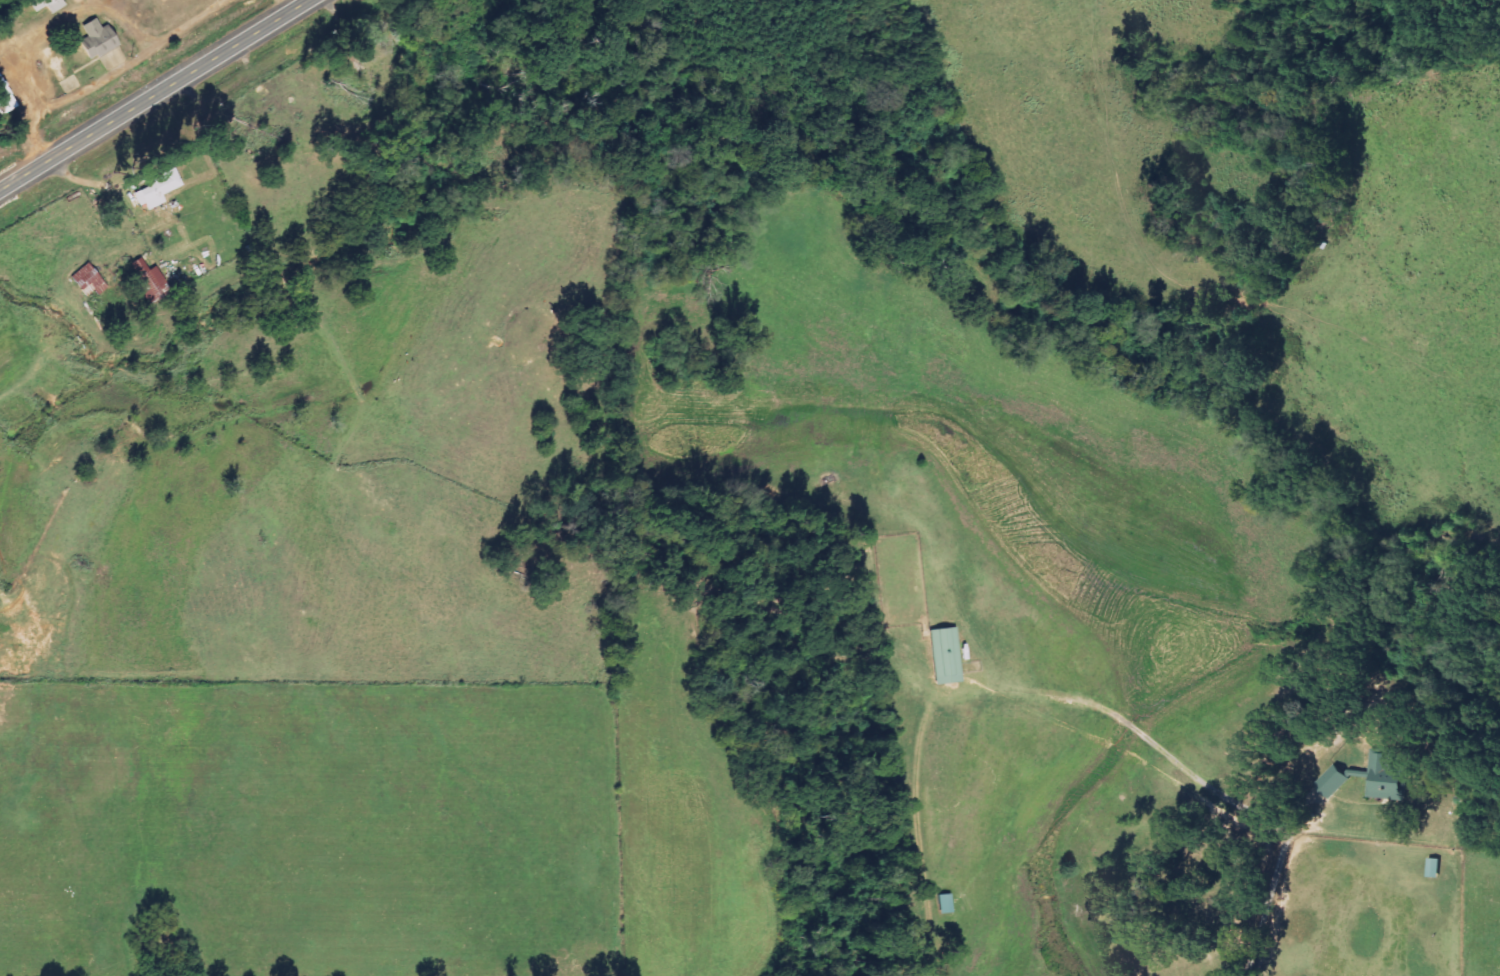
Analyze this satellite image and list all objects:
building: (95, 39)
road: (150, 92)
building: (6, 97)
building: (154, 191)
building: (87, 281)
building: (147, 281)
building: (943, 656)
building: (1386, 777)
building: (1333, 782)
building: (1434, 868)
building: (944, 903)

